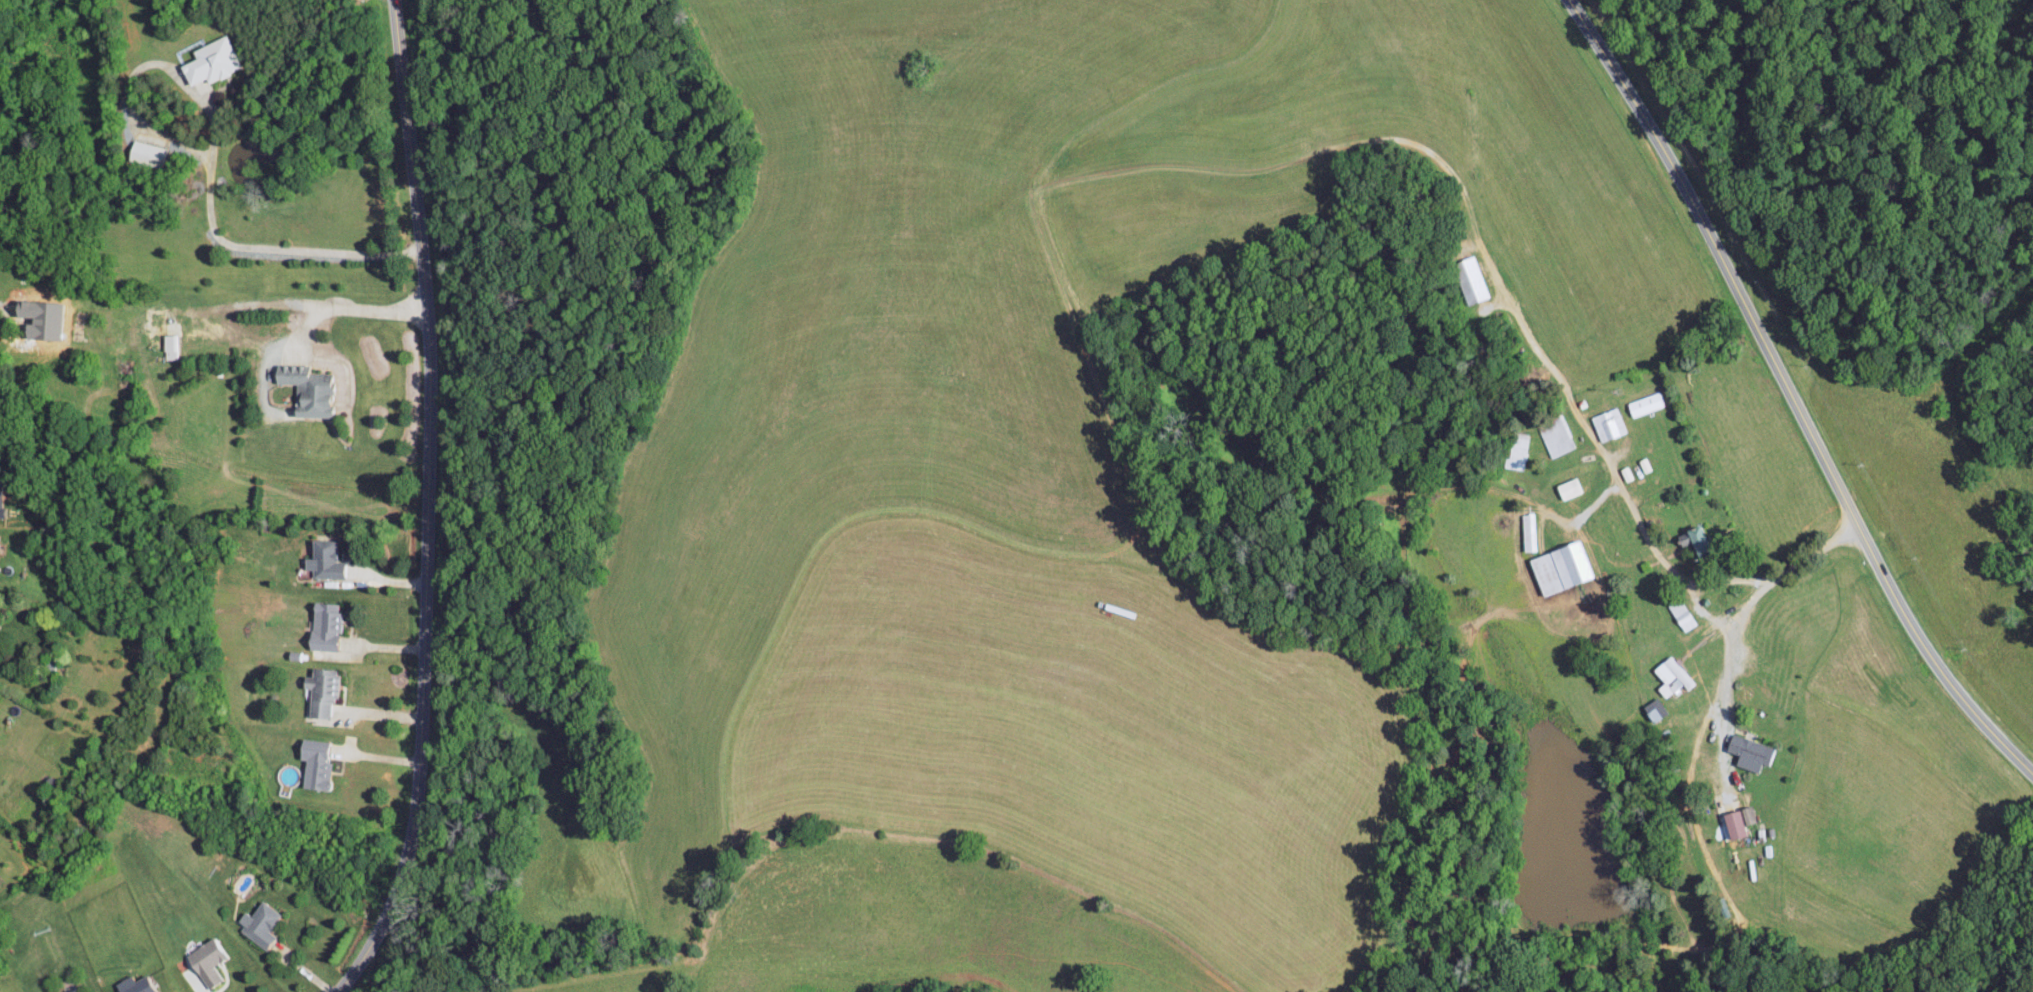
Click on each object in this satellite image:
road: (1578, 12)
building: (214, 60)
building: (147, 153)
road: (212, 159)
building: (1471, 279)
road: (248, 302)
road: (358, 308)
building: (169, 345)
building: (305, 387)
building: (1645, 403)
road: (1799, 406)
building: (1608, 423)
building: (1556, 435)
building: (1519, 450)
road: (1600, 452)
building: (1569, 487)
road: (428, 504)
building: (2, 510)
building: (1529, 531)
building: (1693, 539)
building: (323, 559)
road: (1796, 564)
building: (1561, 566)
building: (1681, 613)
building: (322, 625)
road: (385, 645)
building: (1671, 675)
road: (1724, 683)
building: (319, 691)
building: (1654, 709)
building: (1748, 751)
building: (313, 763)
building: (1747, 814)
building: (1733, 823)
building: (257, 923)
building: (204, 961)
building: (132, 985)
road: (200, 986)
building: (67, 990)

